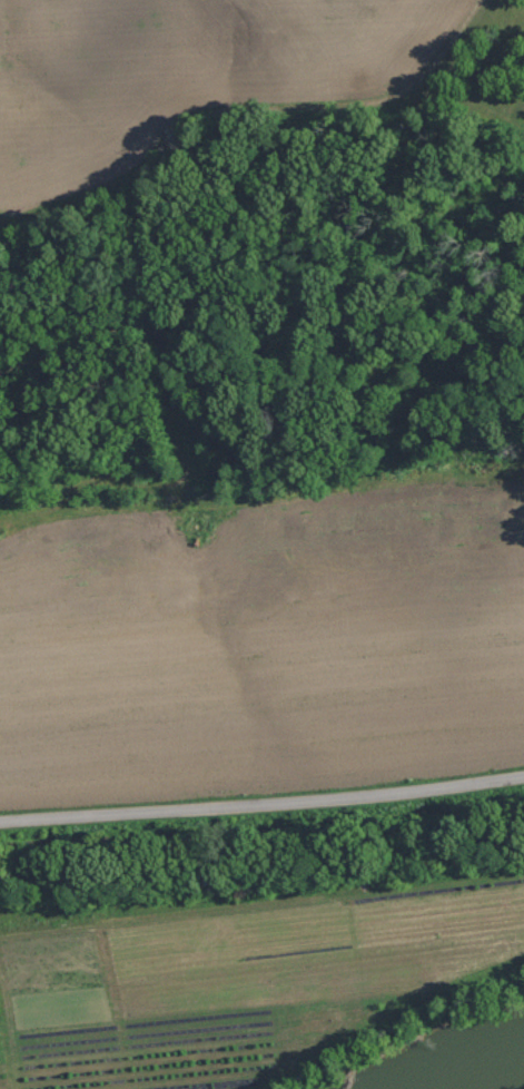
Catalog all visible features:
road: (261, 810)

